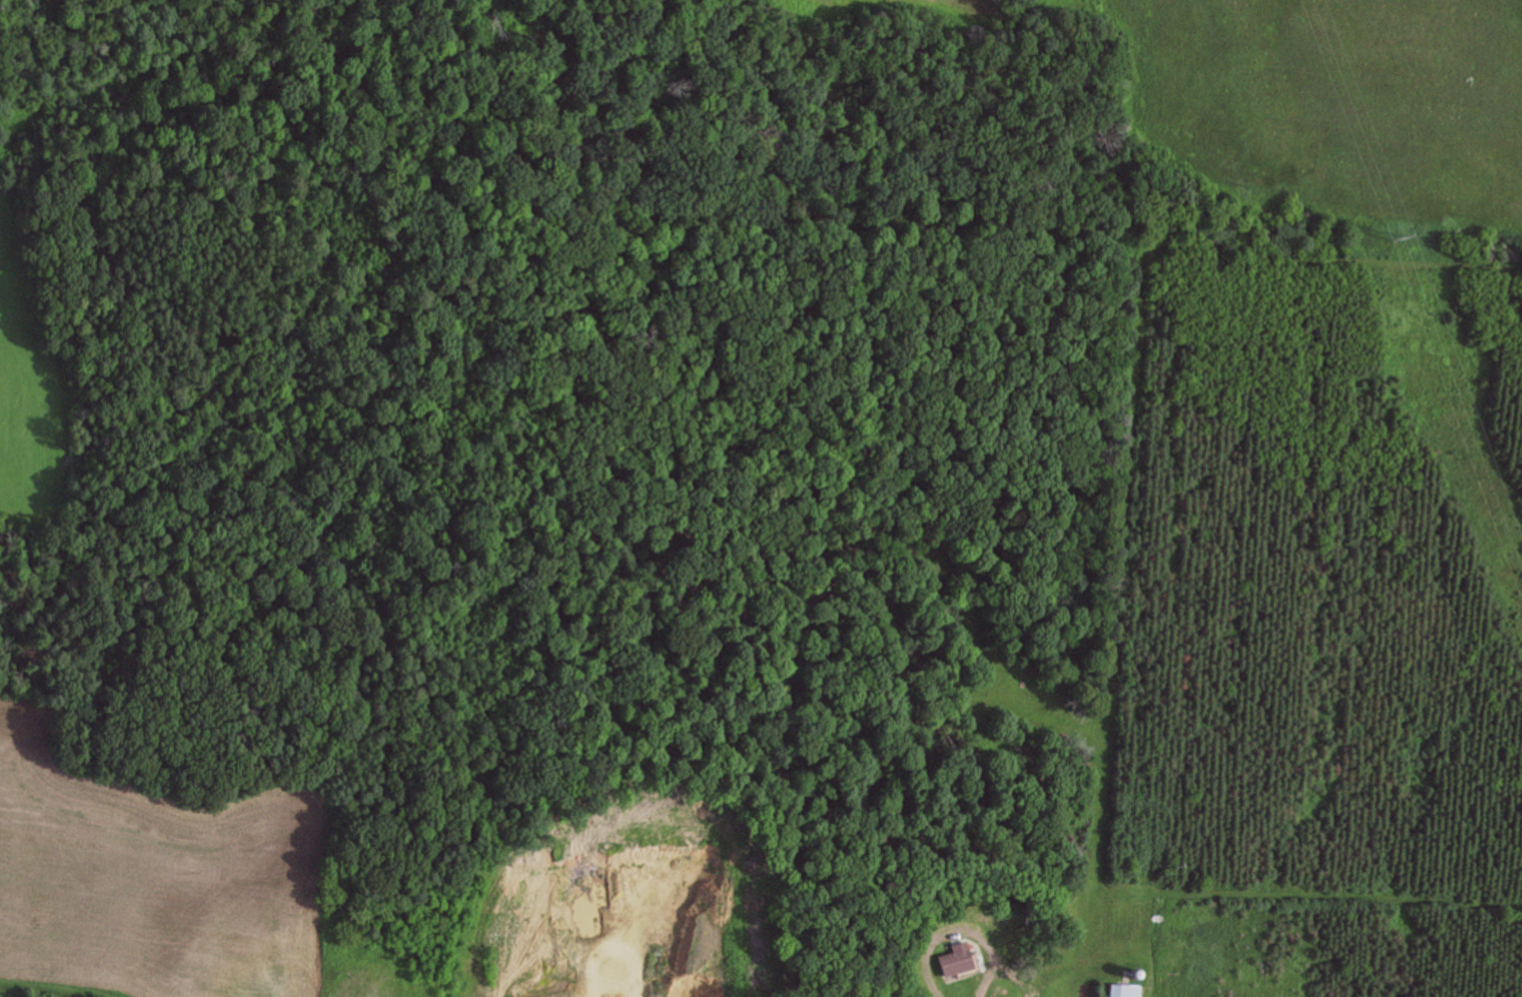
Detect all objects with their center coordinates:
power tower: (1399, 236)
building: (963, 960)
road: (985, 971)
building: (1129, 990)

